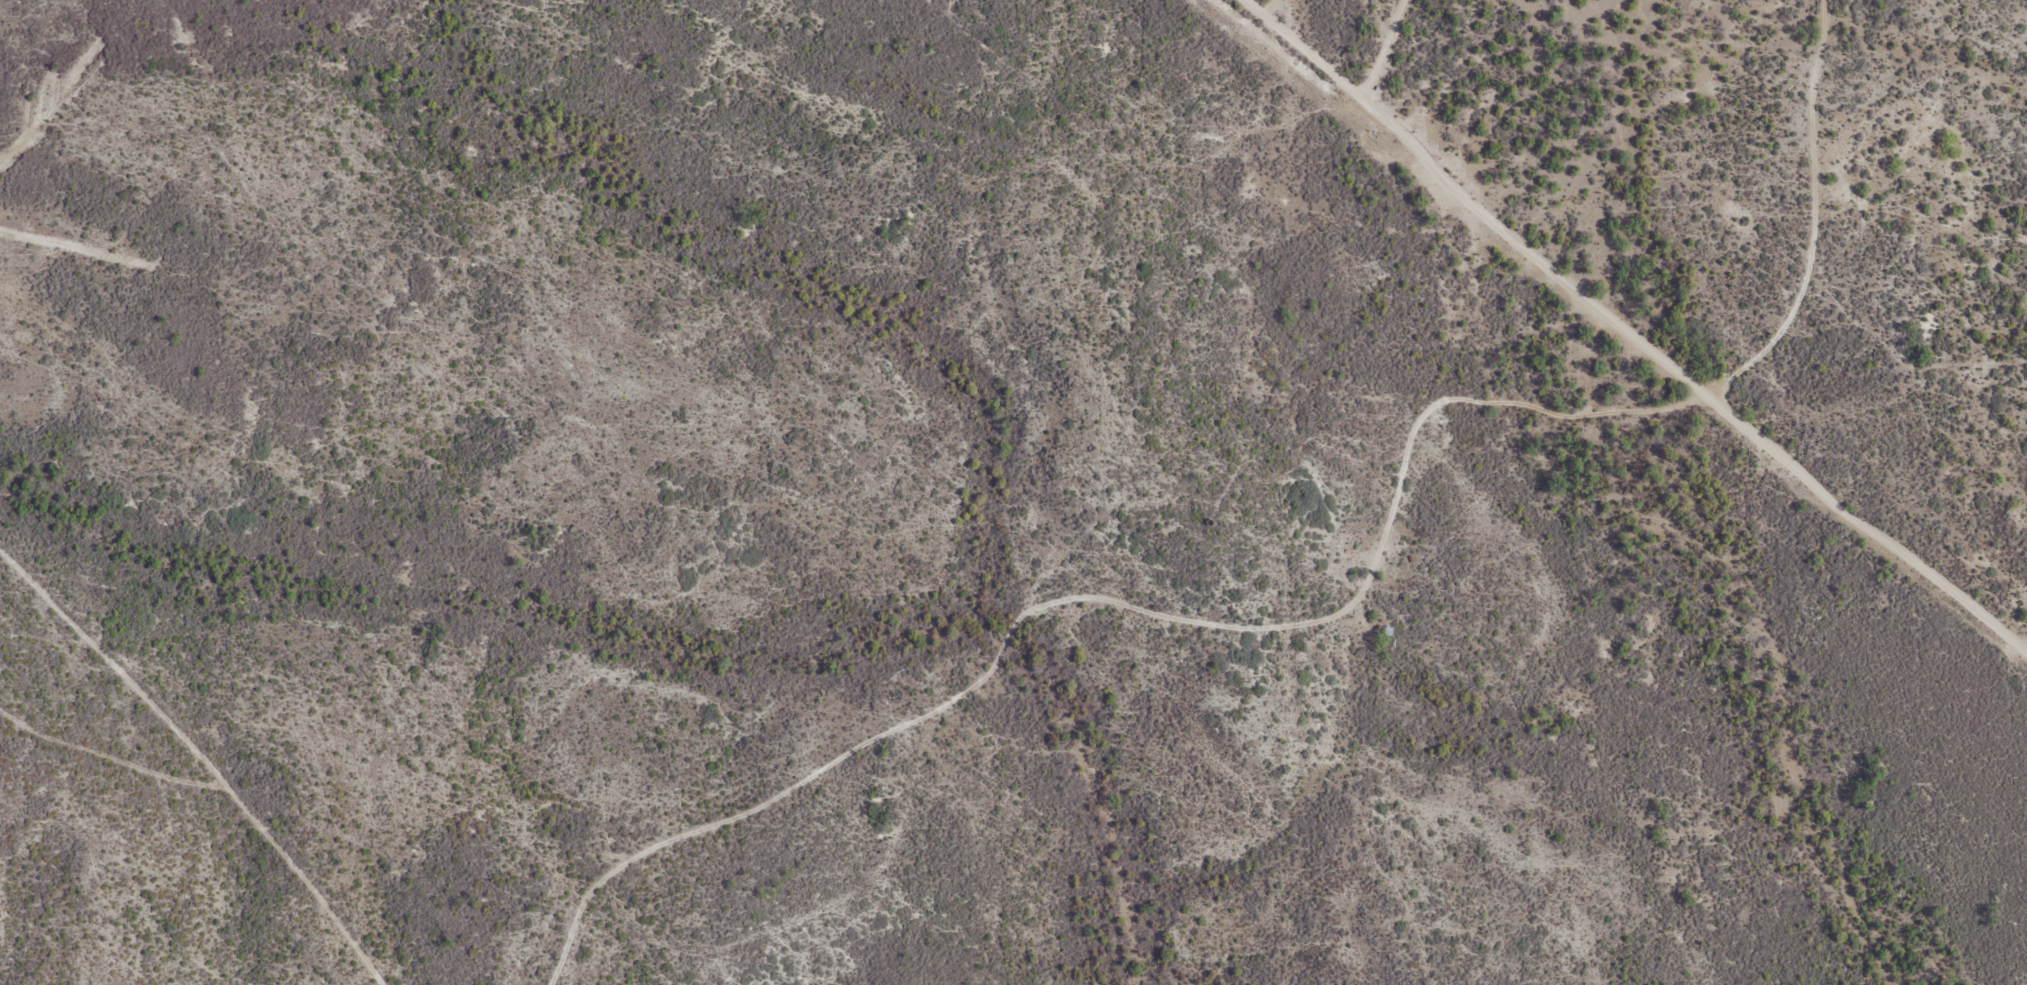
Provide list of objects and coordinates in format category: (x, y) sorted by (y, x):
road: (1822, 197)
road: (1789, 329)
road: (520, 341)
road: (1301, 375)
road: (932, 711)
road: (281, 847)

